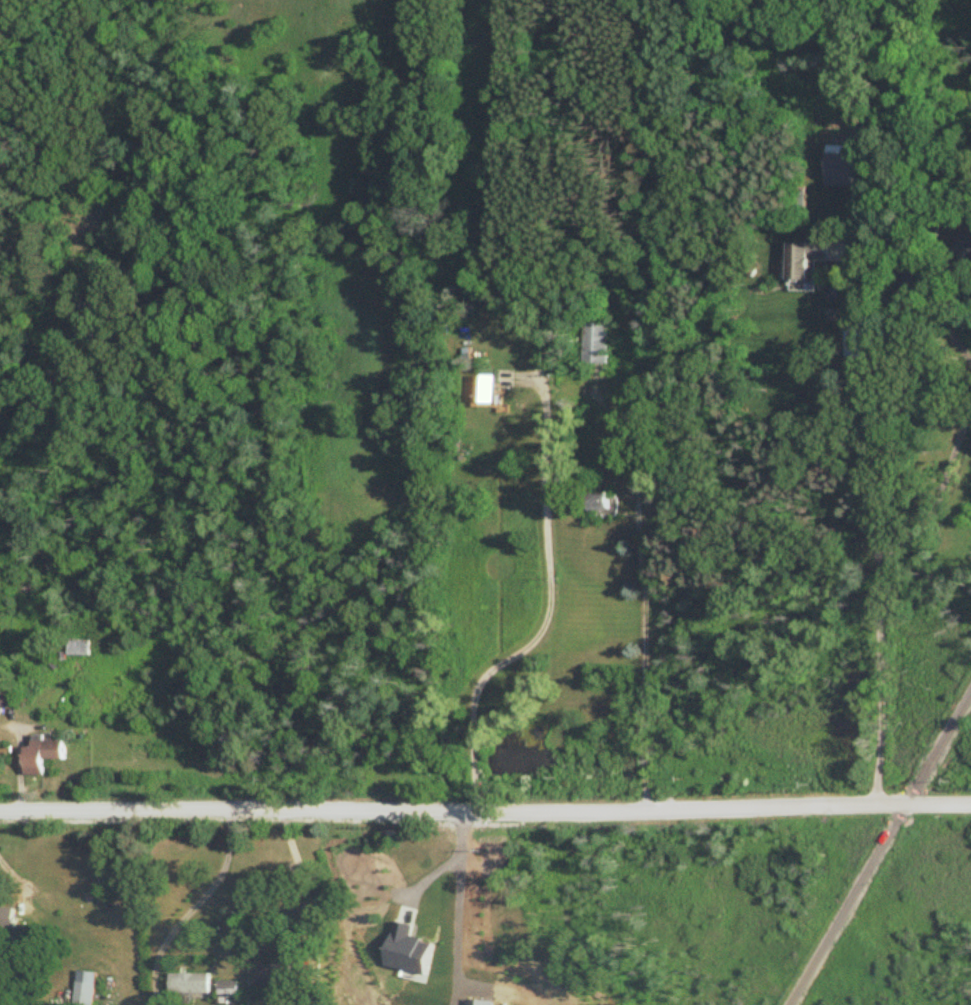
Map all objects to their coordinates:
building: (839, 166)
building: (965, 247)
building: (802, 263)
building: (593, 343)
building: (482, 389)
road: (869, 391)
road: (935, 491)
building: (599, 505)
road: (642, 566)
road: (549, 606)
building: (77, 648)
road: (878, 681)
building: (5, 699)
building: (39, 755)
road: (485, 811)
road: (879, 848)
road: (440, 859)
road: (305, 880)
road: (203, 897)
road: (471, 908)
building: (7, 919)
building: (276, 976)
building: (190, 984)
building: (84, 989)
building: (229, 992)

